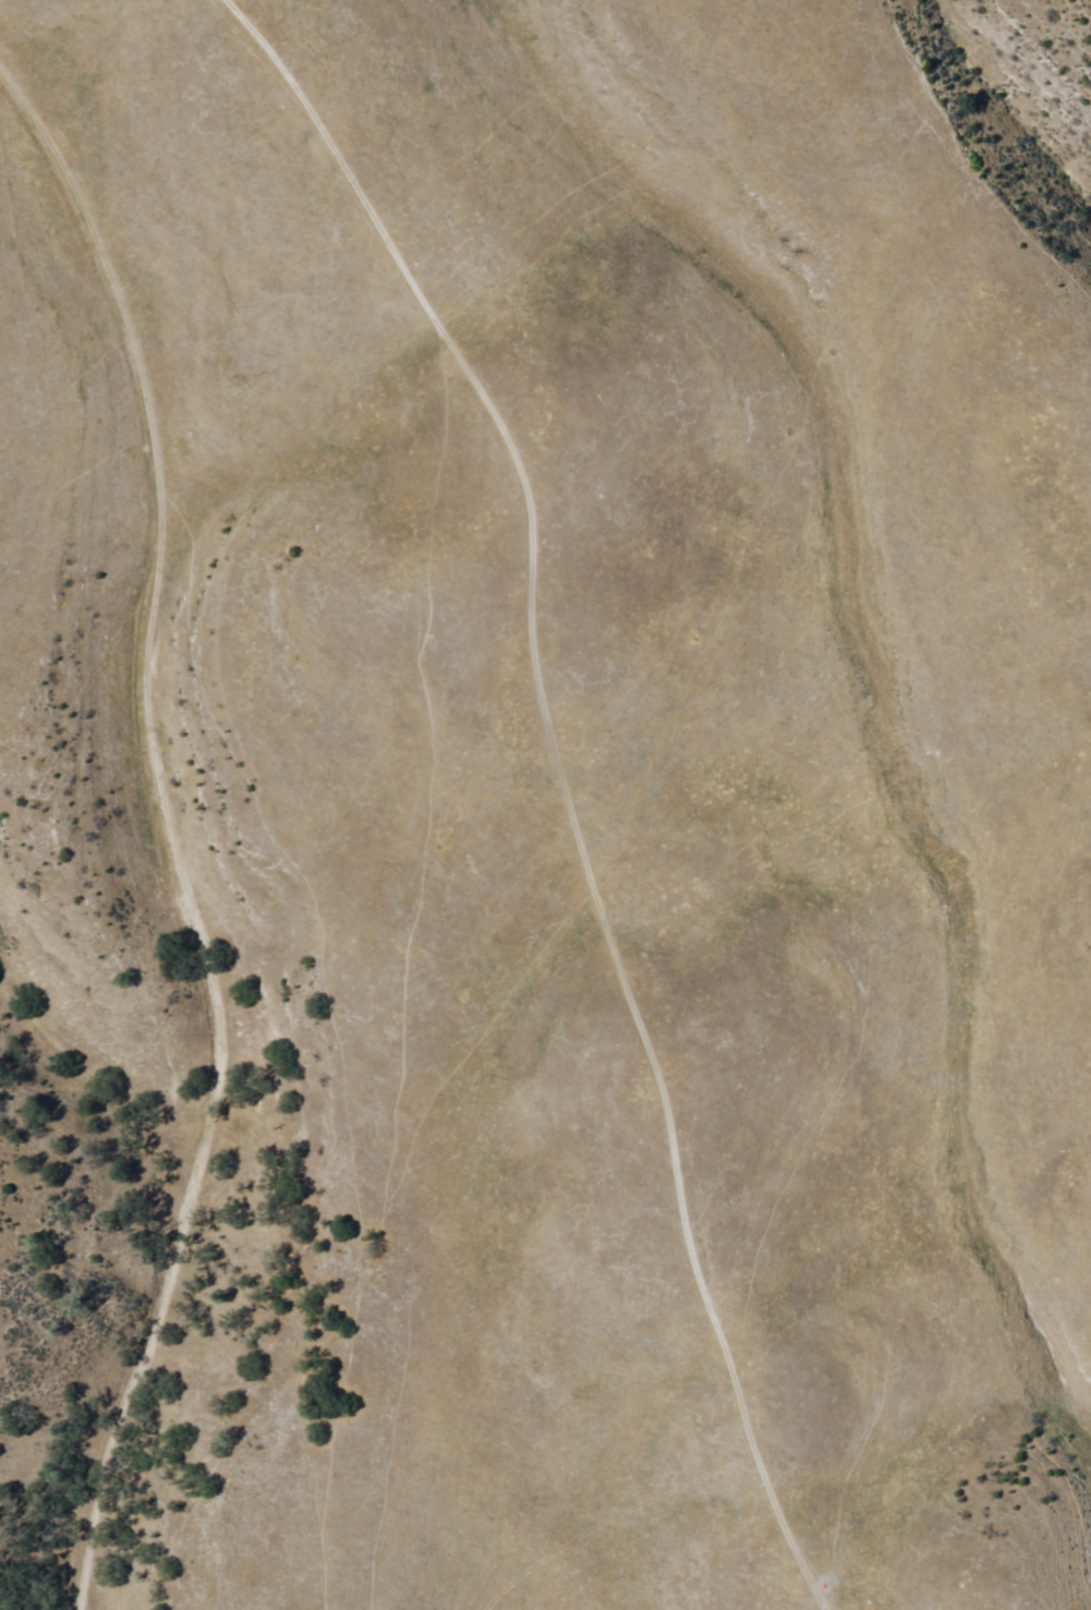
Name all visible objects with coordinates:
road: (170, 804)
road: (573, 925)

